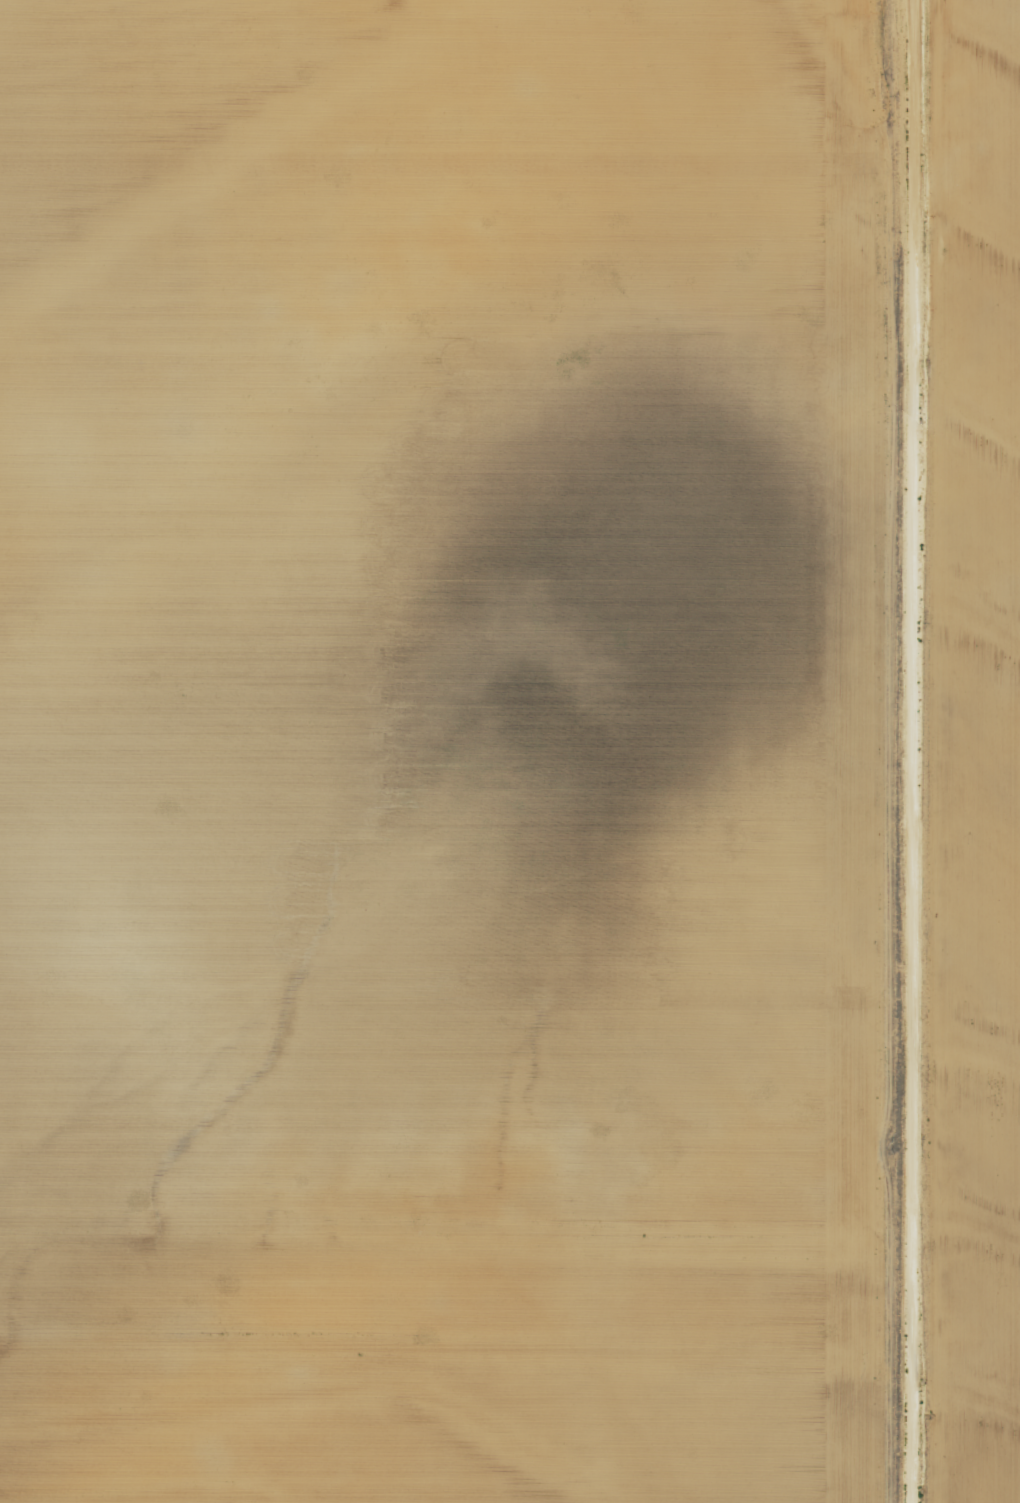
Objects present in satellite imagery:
road: (915, 751)

